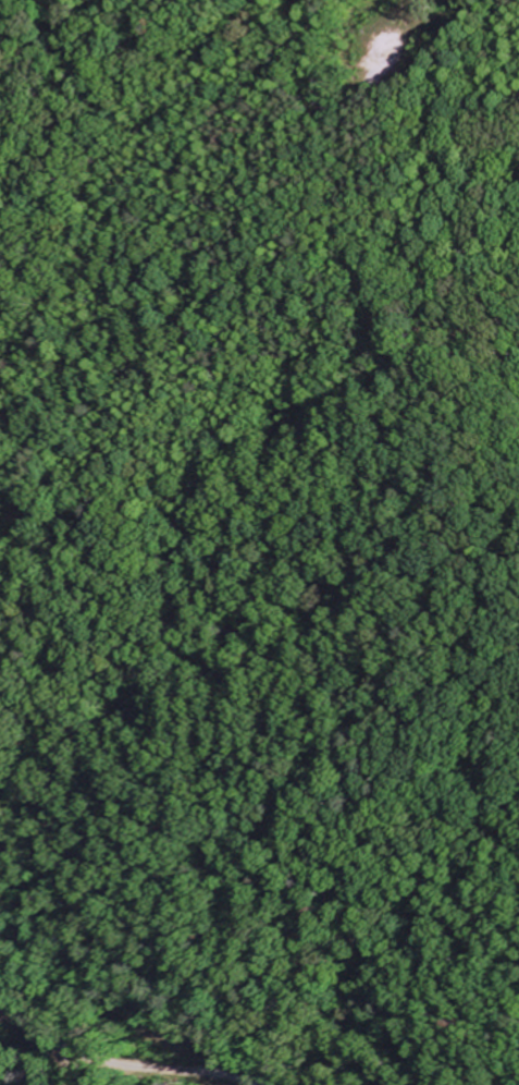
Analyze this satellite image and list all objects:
road: (115, 1061)

